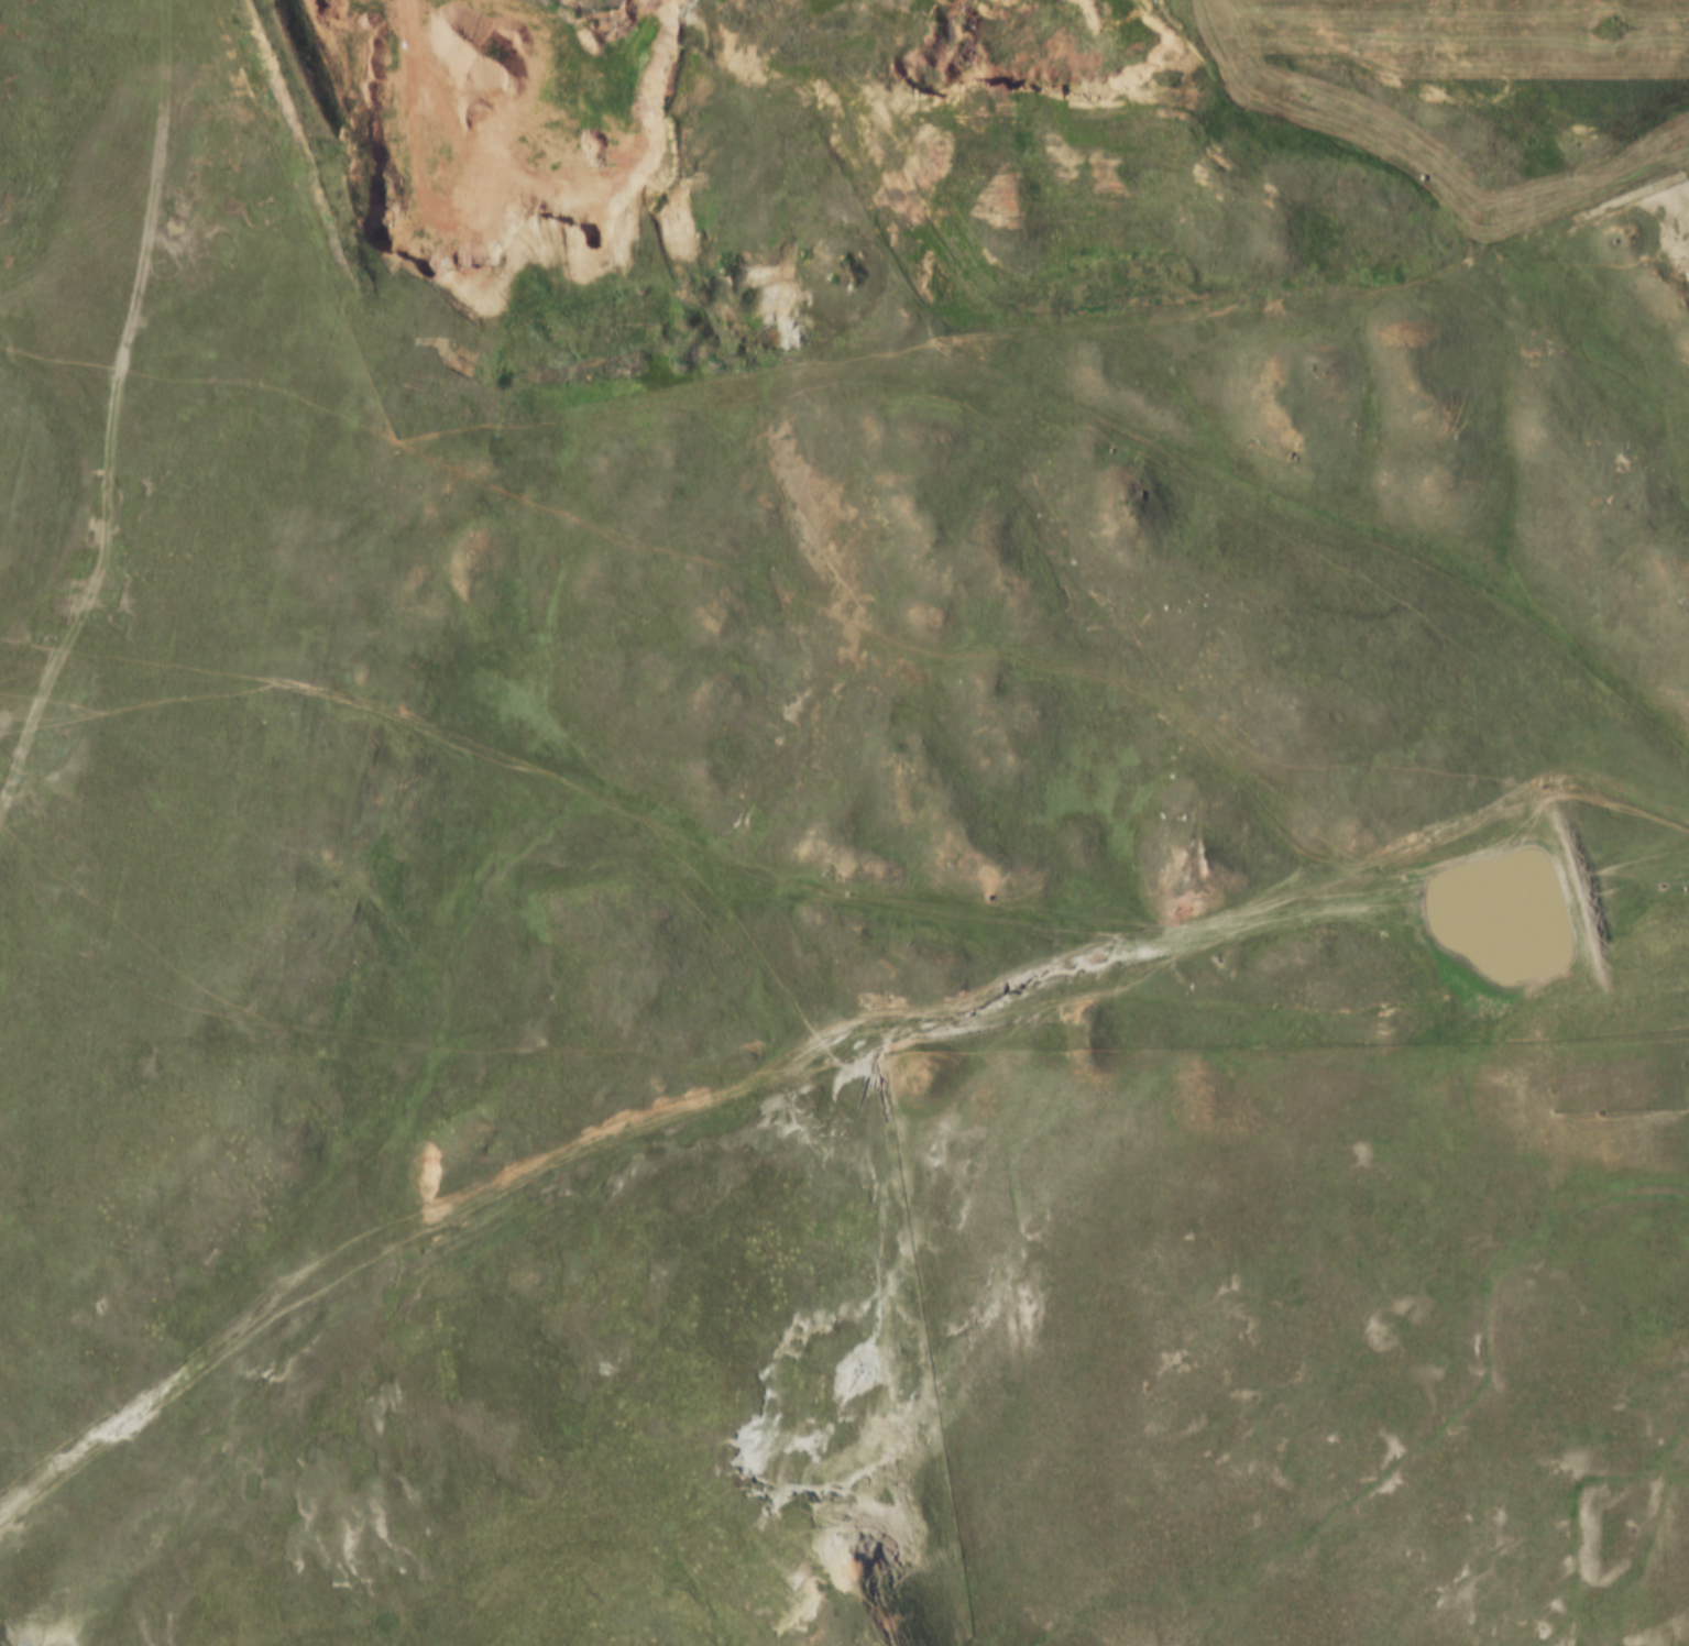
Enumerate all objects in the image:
quarry: (1002, 54)
road: (808, 1055)

